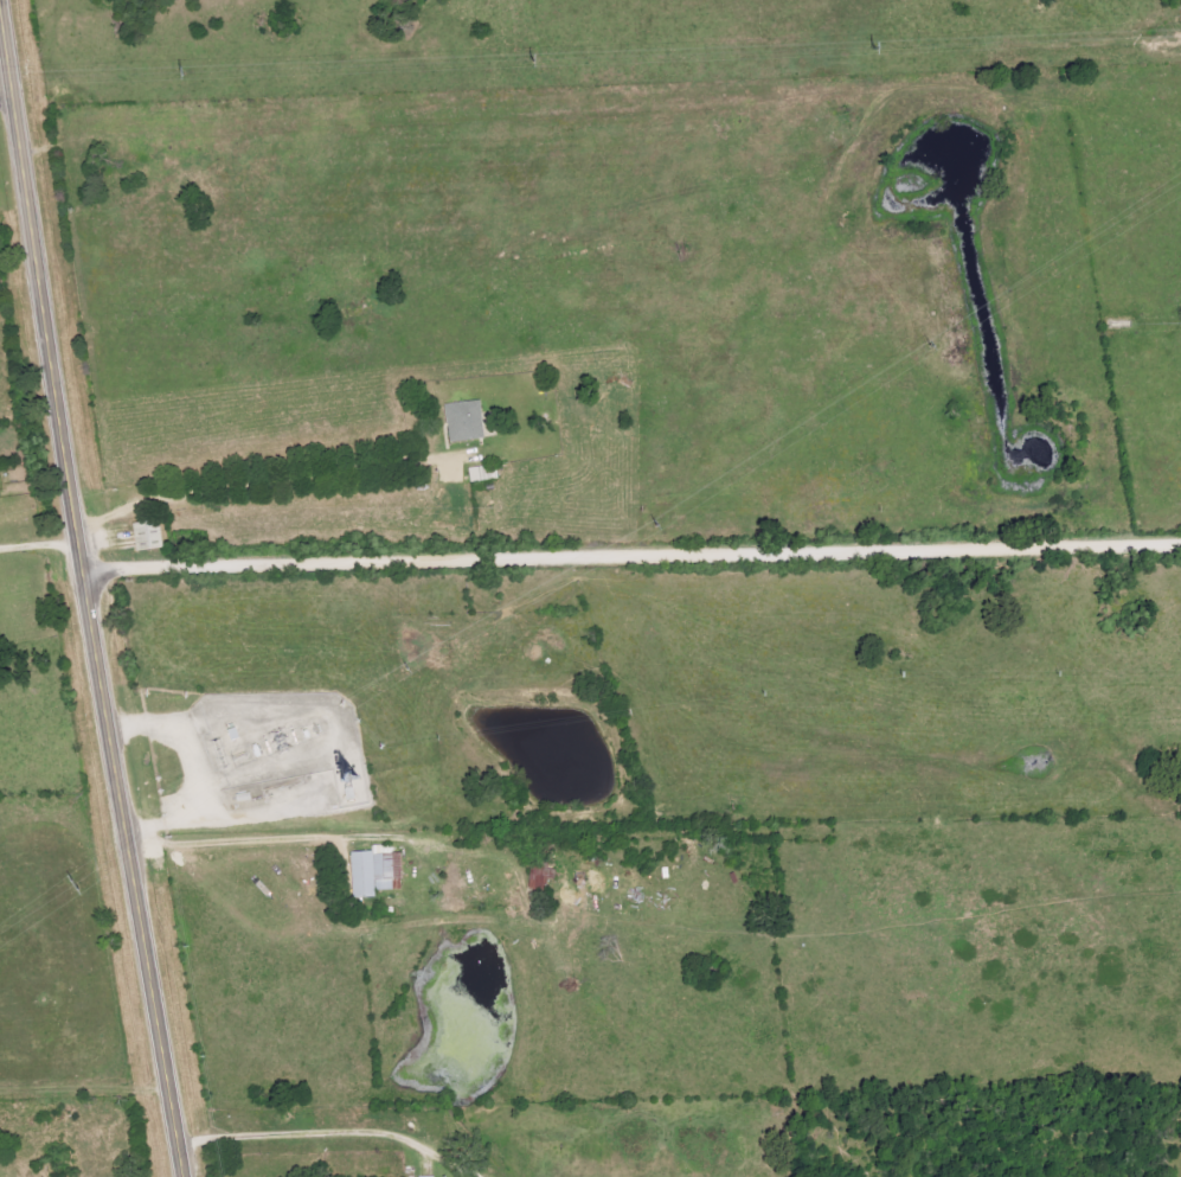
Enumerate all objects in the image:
power tower: (868, 47)
power tower: (522, 59)
power tower: (169, 75)
power tower: (929, 345)
building: (463, 421)
power tower: (654, 525)
road: (630, 556)
road: (85, 595)
power tower: (405, 670)
power substation: (282, 738)
building: (374, 872)
power tower: (76, 884)
building: (434, 1176)

